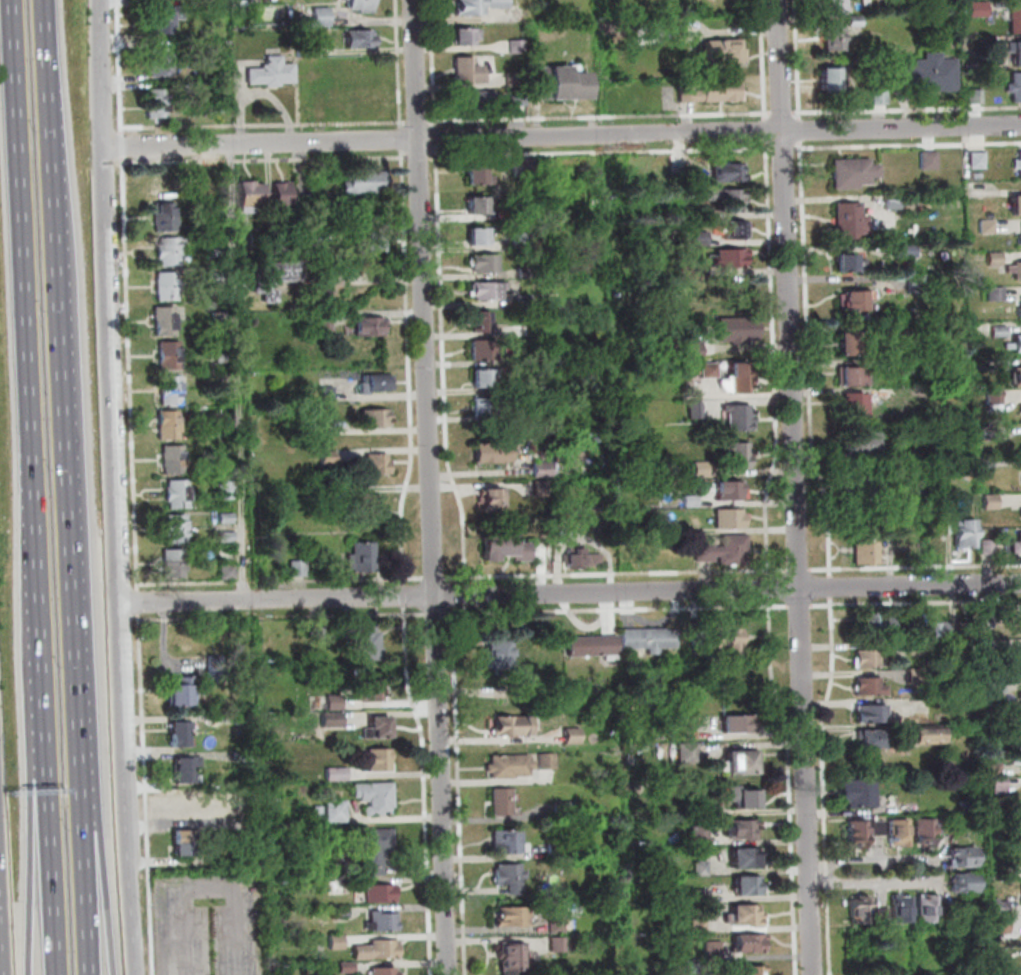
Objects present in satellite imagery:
building: (1012, 0)
building: (499, 5)
building: (361, 6)
building: (836, 7)
building: (471, 8)
park: (673, 8)
building: (979, 10)
building: (319, 19)
building: (162, 21)
building: (857, 22)
building: (1016, 22)
road: (770, 31)
building: (679, 33)
building: (467, 37)
building: (836, 38)
building: (362, 40)
building: (988, 41)
building: (519, 48)
building: (306, 53)
building: (725, 54)
building: (1016, 54)
road: (799, 60)
building: (161, 62)
road: (435, 63)
road: (400, 65)
road: (120, 67)
building: (467, 72)
building: (273, 74)
road: (765, 75)
building: (930, 75)
building: (516, 81)
building: (831, 82)
building: (561, 87)
building: (1016, 89)
building: (714, 94)
building: (882, 97)
building: (976, 97)
building: (519, 99)
building: (361, 102)
building: (472, 103)
building: (158, 105)
road: (907, 110)
road: (784, 113)
road: (602, 116)
road: (419, 121)
road: (266, 126)
road: (767, 131)
road: (803, 131)
road: (562, 136)
road: (437, 138)
road: (404, 140)
road: (124, 145)
road: (908, 145)
road: (786, 149)
road: (603, 153)
road: (422, 157)
road: (268, 160)
building: (931, 162)
building: (979, 162)
building: (1019, 164)
building: (525, 169)
building: (680, 171)
building: (728, 174)
building: (855, 175)
building: (978, 176)
building: (479, 179)
building: (365, 183)
building: (303, 185)
building: (254, 195)
building: (284, 195)
building: (734, 201)
building: (894, 203)
building: (480, 206)
building: (1017, 207)
building: (166, 211)
building: (521, 212)
building: (701, 213)
building: (851, 222)
building: (166, 225)
building: (989, 227)
building: (738, 230)
building: (1020, 234)
building: (313, 237)
building: (258, 238)
building: (480, 238)
building: (701, 239)
building: (1020, 239)
building: (522, 243)
building: (372, 244)
building: (170, 246)
building: (280, 247)
building: (219, 250)
road: (20, 252)
building: (908, 252)
building: (729, 258)
building: (996, 259)
building: (171, 260)
road: (56, 263)
building: (487, 265)
building: (850, 265)
building: (1018, 271)
building: (527, 274)
building: (683, 275)
building: (275, 278)
building: (168, 280)
building: (918, 284)
building: (490, 292)
building: (169, 294)
building: (997, 294)
building: (322, 297)
building: (858, 301)
building: (526, 302)
building: (1019, 307)
building: (167, 315)
building: (222, 319)
building: (483, 323)
building: (326, 325)
building: (371, 328)
building: (167, 329)
building: (737, 331)
building: (523, 332)
building: (1001, 332)
building: (884, 334)
building: (1016, 344)
building: (848, 347)
building: (171, 350)
building: (486, 350)
building: (693, 351)
building: (529, 357)
building: (225, 359)
road: (810, 360)
road: (776, 361)
building: (986, 363)
building: (171, 364)
building: (895, 367)
road: (446, 368)
road: (412, 369)
road: (243, 371)
building: (710, 372)
road: (131, 374)
building: (1017, 378)
building: (486, 379)
building: (853, 379)
building: (738, 381)
building: (172, 383)
building: (379, 384)
building: (517, 387)
building: (328, 392)
building: (223, 396)
building: (172, 398)
building: (995, 401)
building: (854, 403)
building: (487, 407)
building: (1020, 407)
building: (696, 410)
road: (114, 413)
building: (520, 417)
building: (376, 418)
building: (170, 419)
building: (740, 419)
building: (170, 433)
building: (989, 434)
building: (867, 444)
building: (174, 452)
building: (495, 454)
building: (737, 457)
building: (330, 458)
building: (912, 461)
building: (988, 464)
building: (175, 467)
building: (380, 468)
building: (703, 470)
building: (544, 471)
road: (433, 487)
road: (797, 487)
building: (180, 488)
building: (227, 488)
building: (543, 489)
building: (859, 489)
building: (336, 492)
building: (731, 492)
building: (180, 500)
building: (494, 500)
building: (692, 502)
building: (992, 502)
building: (369, 509)
building: (1020, 511)
building: (564, 514)
building: (227, 518)
building: (731, 520)
building: (178, 522)
building: (675, 529)
building: (966, 535)
building: (178, 536)
building: (228, 536)
building: (990, 547)
building: (1017, 548)
building: (507, 550)
building: (725, 552)
building: (866, 553)
building: (175, 558)
building: (364, 558)
building: (582, 559)
road: (916, 565)
building: (299, 569)
road: (801, 569)
building: (175, 572)
building: (229, 572)
road: (618, 573)
road: (436, 577)
road: (283, 580)
road: (832, 587)
road: (771, 589)
road: (571, 592)
road: (469, 594)
road: (406, 595)
road: (916, 602)
road: (140, 603)
road: (801, 606)
road: (469, 608)
road: (620, 609)
road: (439, 613)
road: (284, 616)
road: (37, 624)
building: (879, 626)
building: (318, 627)
building: (938, 634)
building: (967, 635)
building: (730, 637)
building: (700, 639)
building: (650, 641)
building: (370, 643)
building: (595, 647)
building: (915, 648)
building: (498, 658)
building: (869, 660)
building: (218, 667)
road: (76, 672)
building: (916, 676)
building: (932, 677)
building: (962, 678)
building: (998, 684)
building: (871, 687)
building: (371, 691)
building: (519, 691)
building: (185, 692)
building: (1019, 695)
building: (336, 702)
building: (872, 713)
building: (245, 719)
building: (335, 720)
building: (740, 725)
building: (516, 727)
building: (379, 729)
building: (183, 734)
building: (697, 735)
building: (574, 737)
building: (930, 738)
building: (872, 740)
building: (690, 754)
building: (245, 758)
building: (1017, 759)
building: (381, 761)
building: (549, 761)
building: (744, 764)
building: (512, 767)
building: (996, 769)
building: (188, 771)
building: (339, 773)
road: (826, 785)
building: (1001, 785)
road: (792, 786)
road: (427, 789)
road: (462, 793)
road: (148, 794)
building: (859, 794)
building: (745, 798)
building: (377, 799)
building: (504, 802)
building: (189, 807)
building: (319, 810)
building: (568, 811)
building: (338, 812)
building: (703, 812)
building: (998, 816)
building: (248, 822)
building: (880, 827)
building: (928, 829)
building: (743, 830)
building: (859, 832)
building: (901, 832)
building: (702, 835)
building: (186, 842)
building: (509, 844)
building: (375, 850)
building: (558, 851)
building: (967, 857)
road: (34, 859)
road: (48, 859)
building: (747, 859)
road: (941, 868)
building: (703, 869)
road: (820, 872)
building: (512, 877)
road: (212, 882)
building: (967, 882)
building: (338, 887)
building: (750, 887)
building: (1020, 893)
building: (383, 894)
building: (705, 895)
road: (86, 897)
road: (96, 897)
road: (133, 901)
building: (1001, 906)
building: (928, 908)
building: (904, 909)
building: (862, 911)
building: (344, 913)
building: (951, 913)
building: (749, 916)
building: (883, 916)
building: (516, 918)
building: (383, 922)
parking lot: (212, 923)
building: (1002, 924)
building: (702, 925)
building: (560, 926)
building: (339, 943)
building: (749, 945)
building: (563, 946)
building: (379, 951)
building: (715, 952)
building: (1003, 954)
building: (513, 959)
building: (349, 968)
building: (694, 968)
building: (752, 971)
building: (385, 972)

